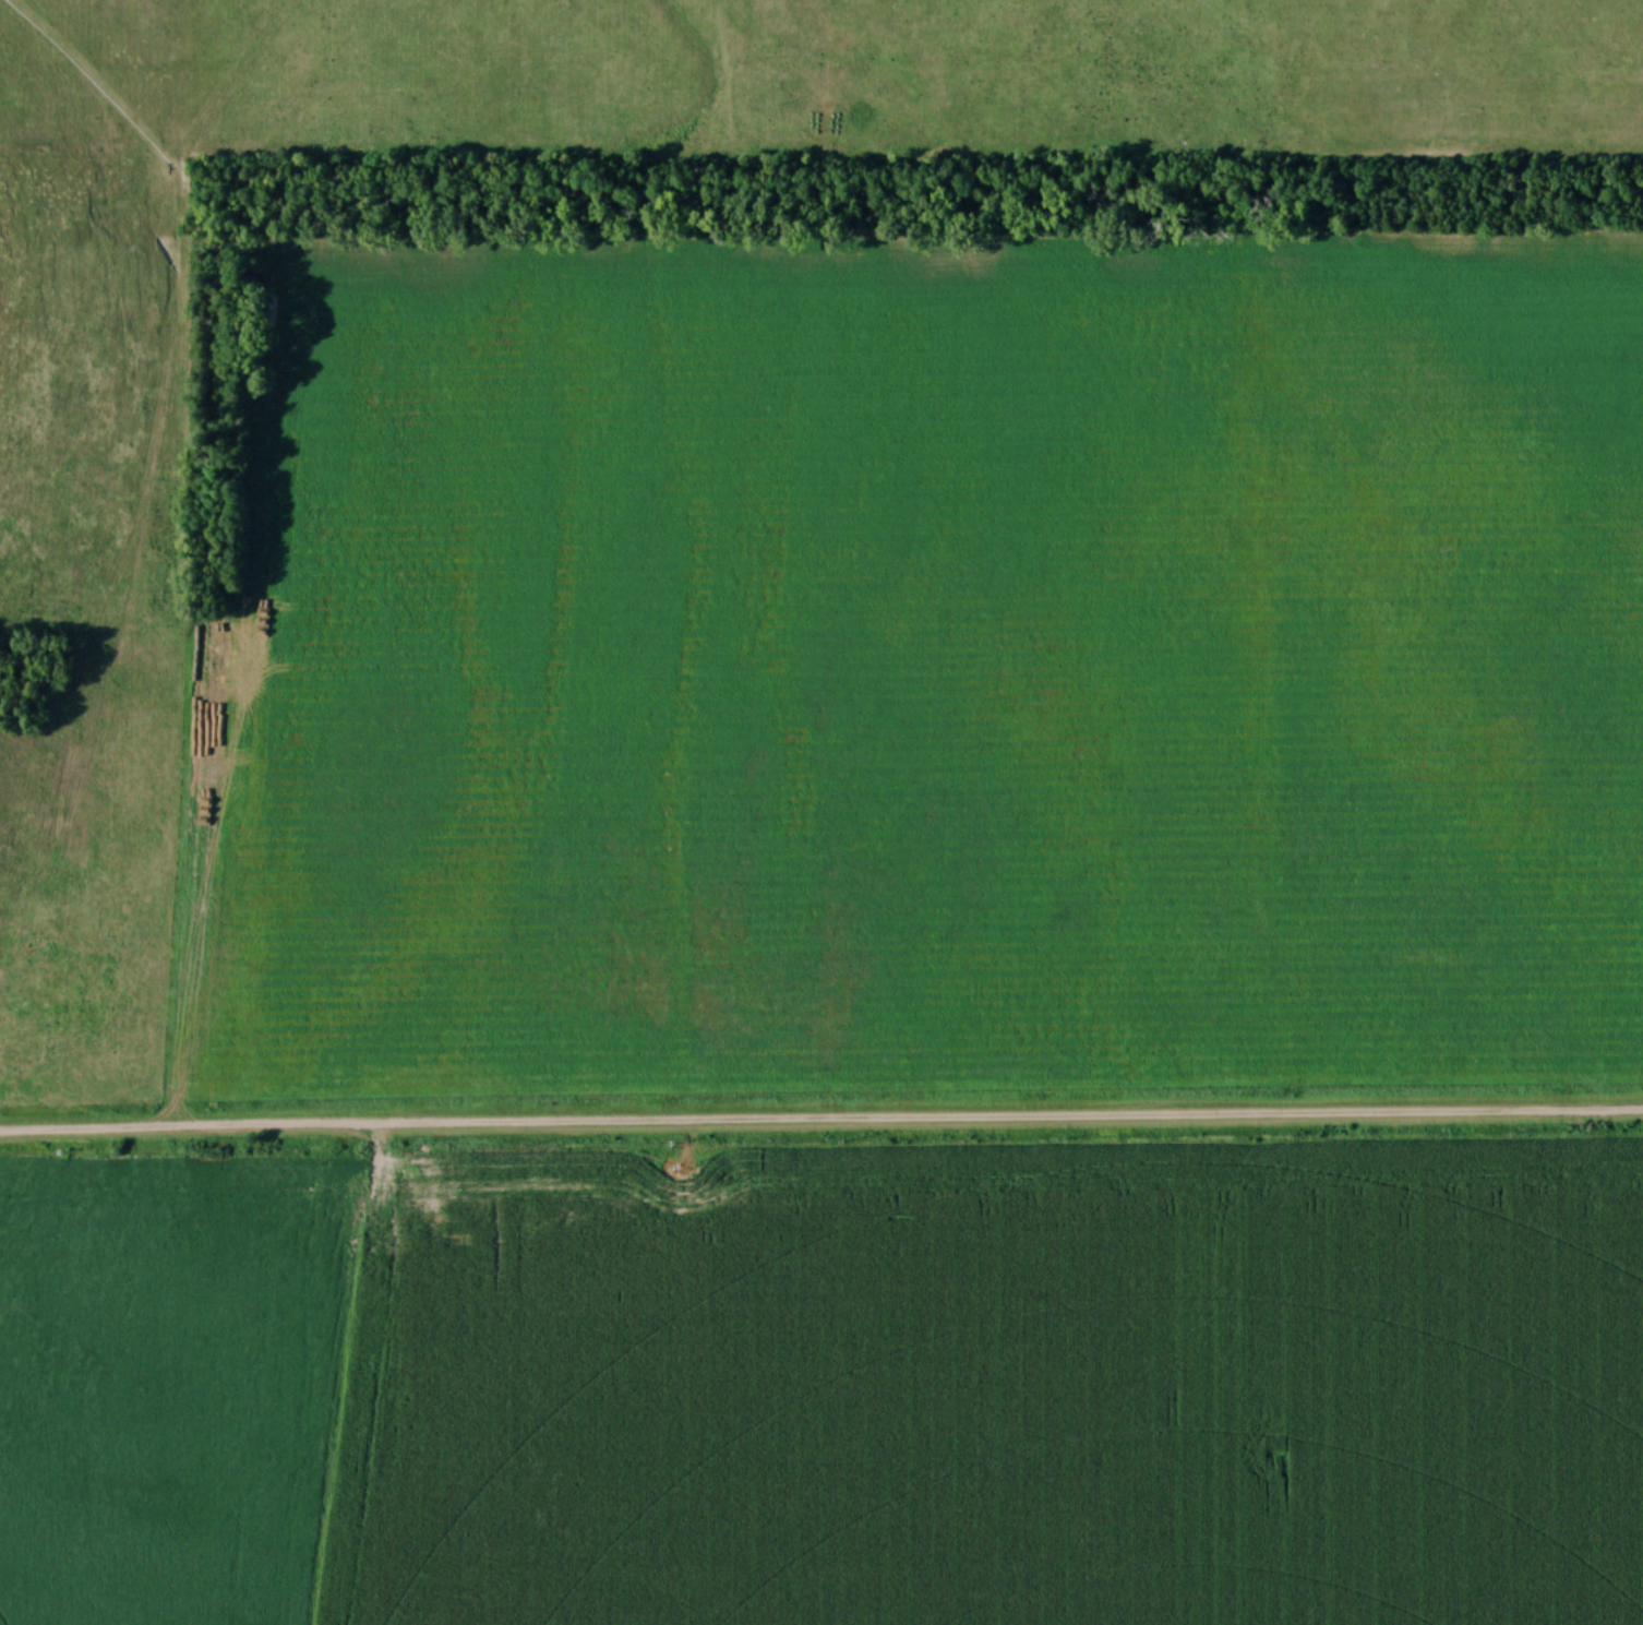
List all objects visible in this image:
road: (820, 1116)

